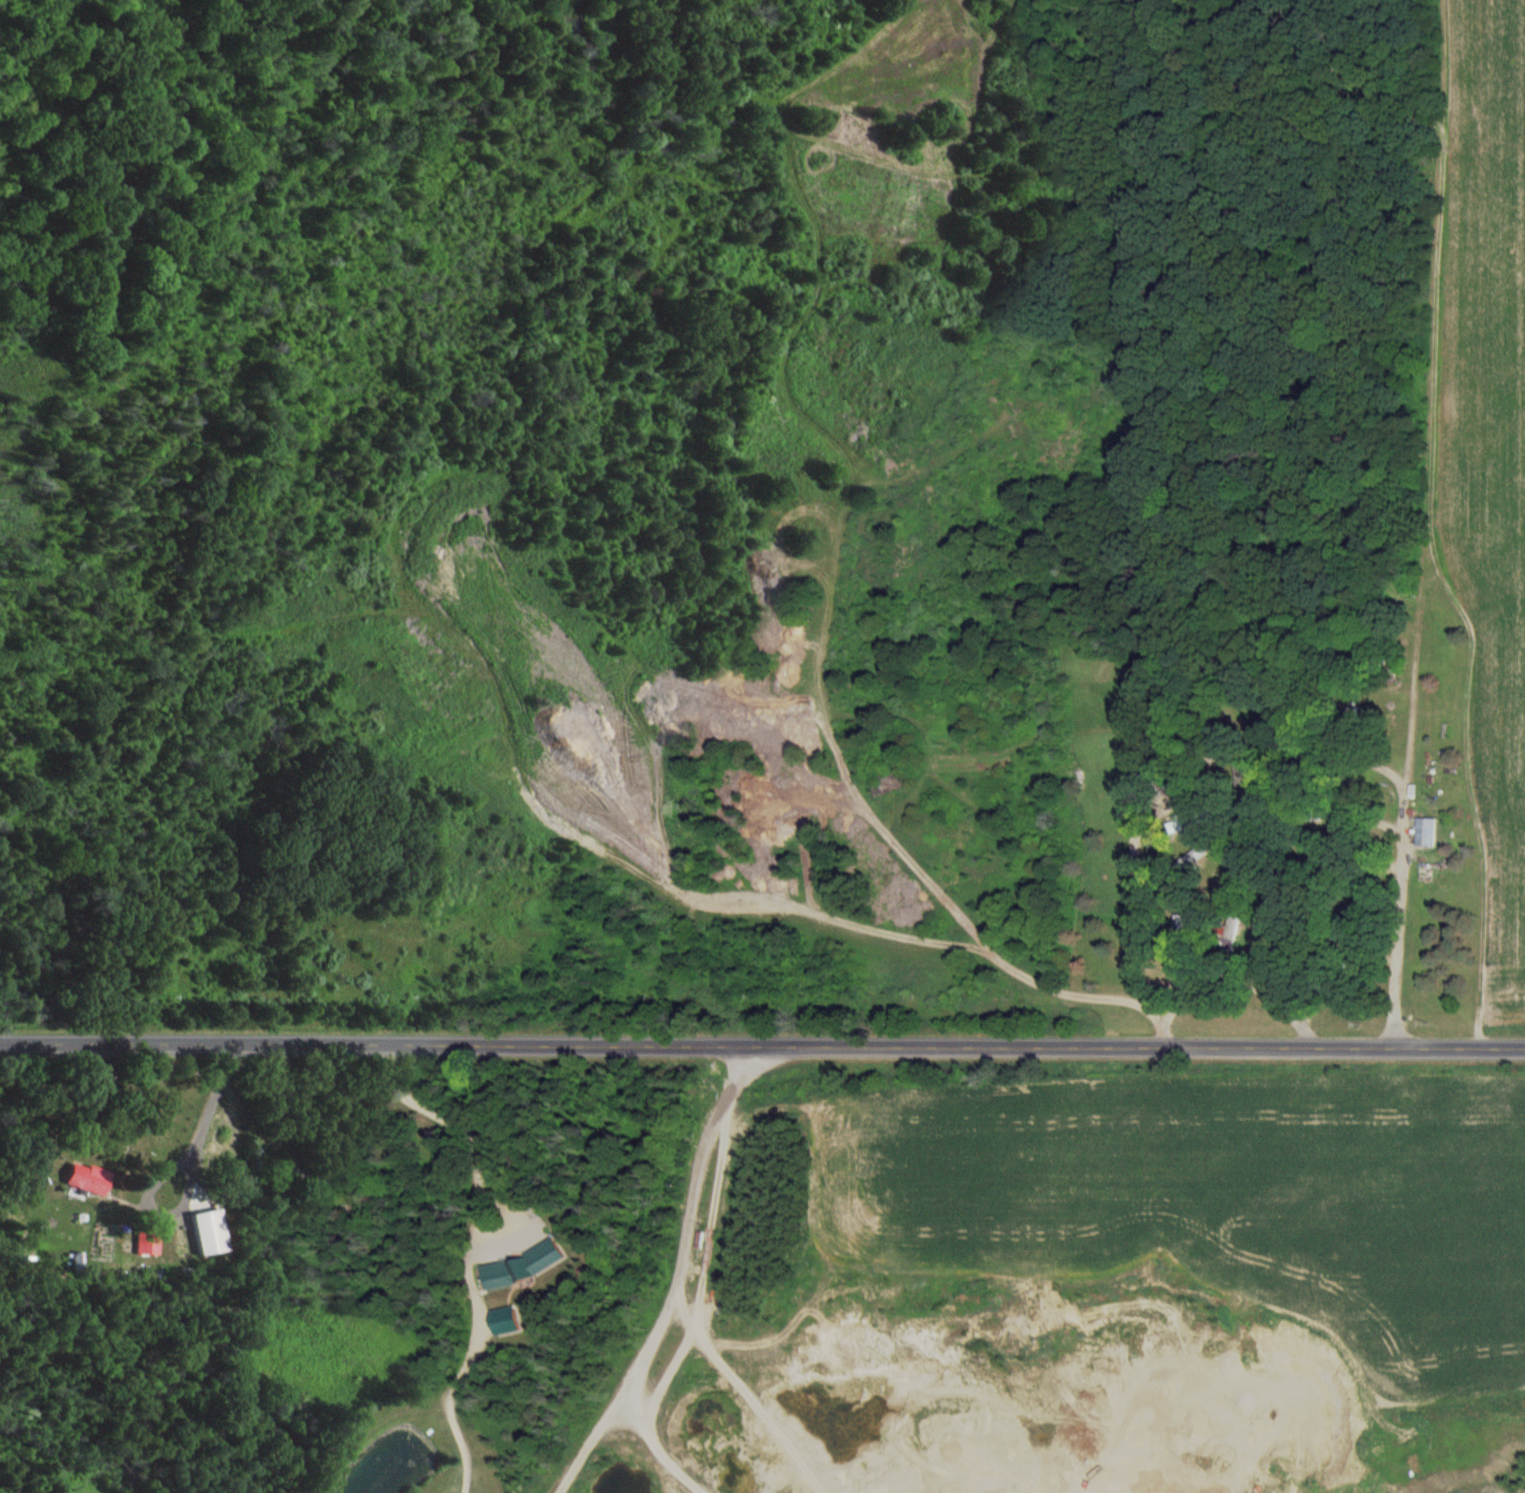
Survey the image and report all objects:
building: (1191, 821)
building: (1425, 831)
road: (1403, 861)
road: (1131, 923)
building: (1179, 926)
building: (1230, 928)
road: (1228, 978)
road: (762, 1043)
road: (495, 1162)
road: (167, 1167)
building: (82, 1177)
building: (311, 1179)
building: (205, 1232)
building: (145, 1240)
building: (497, 1276)

